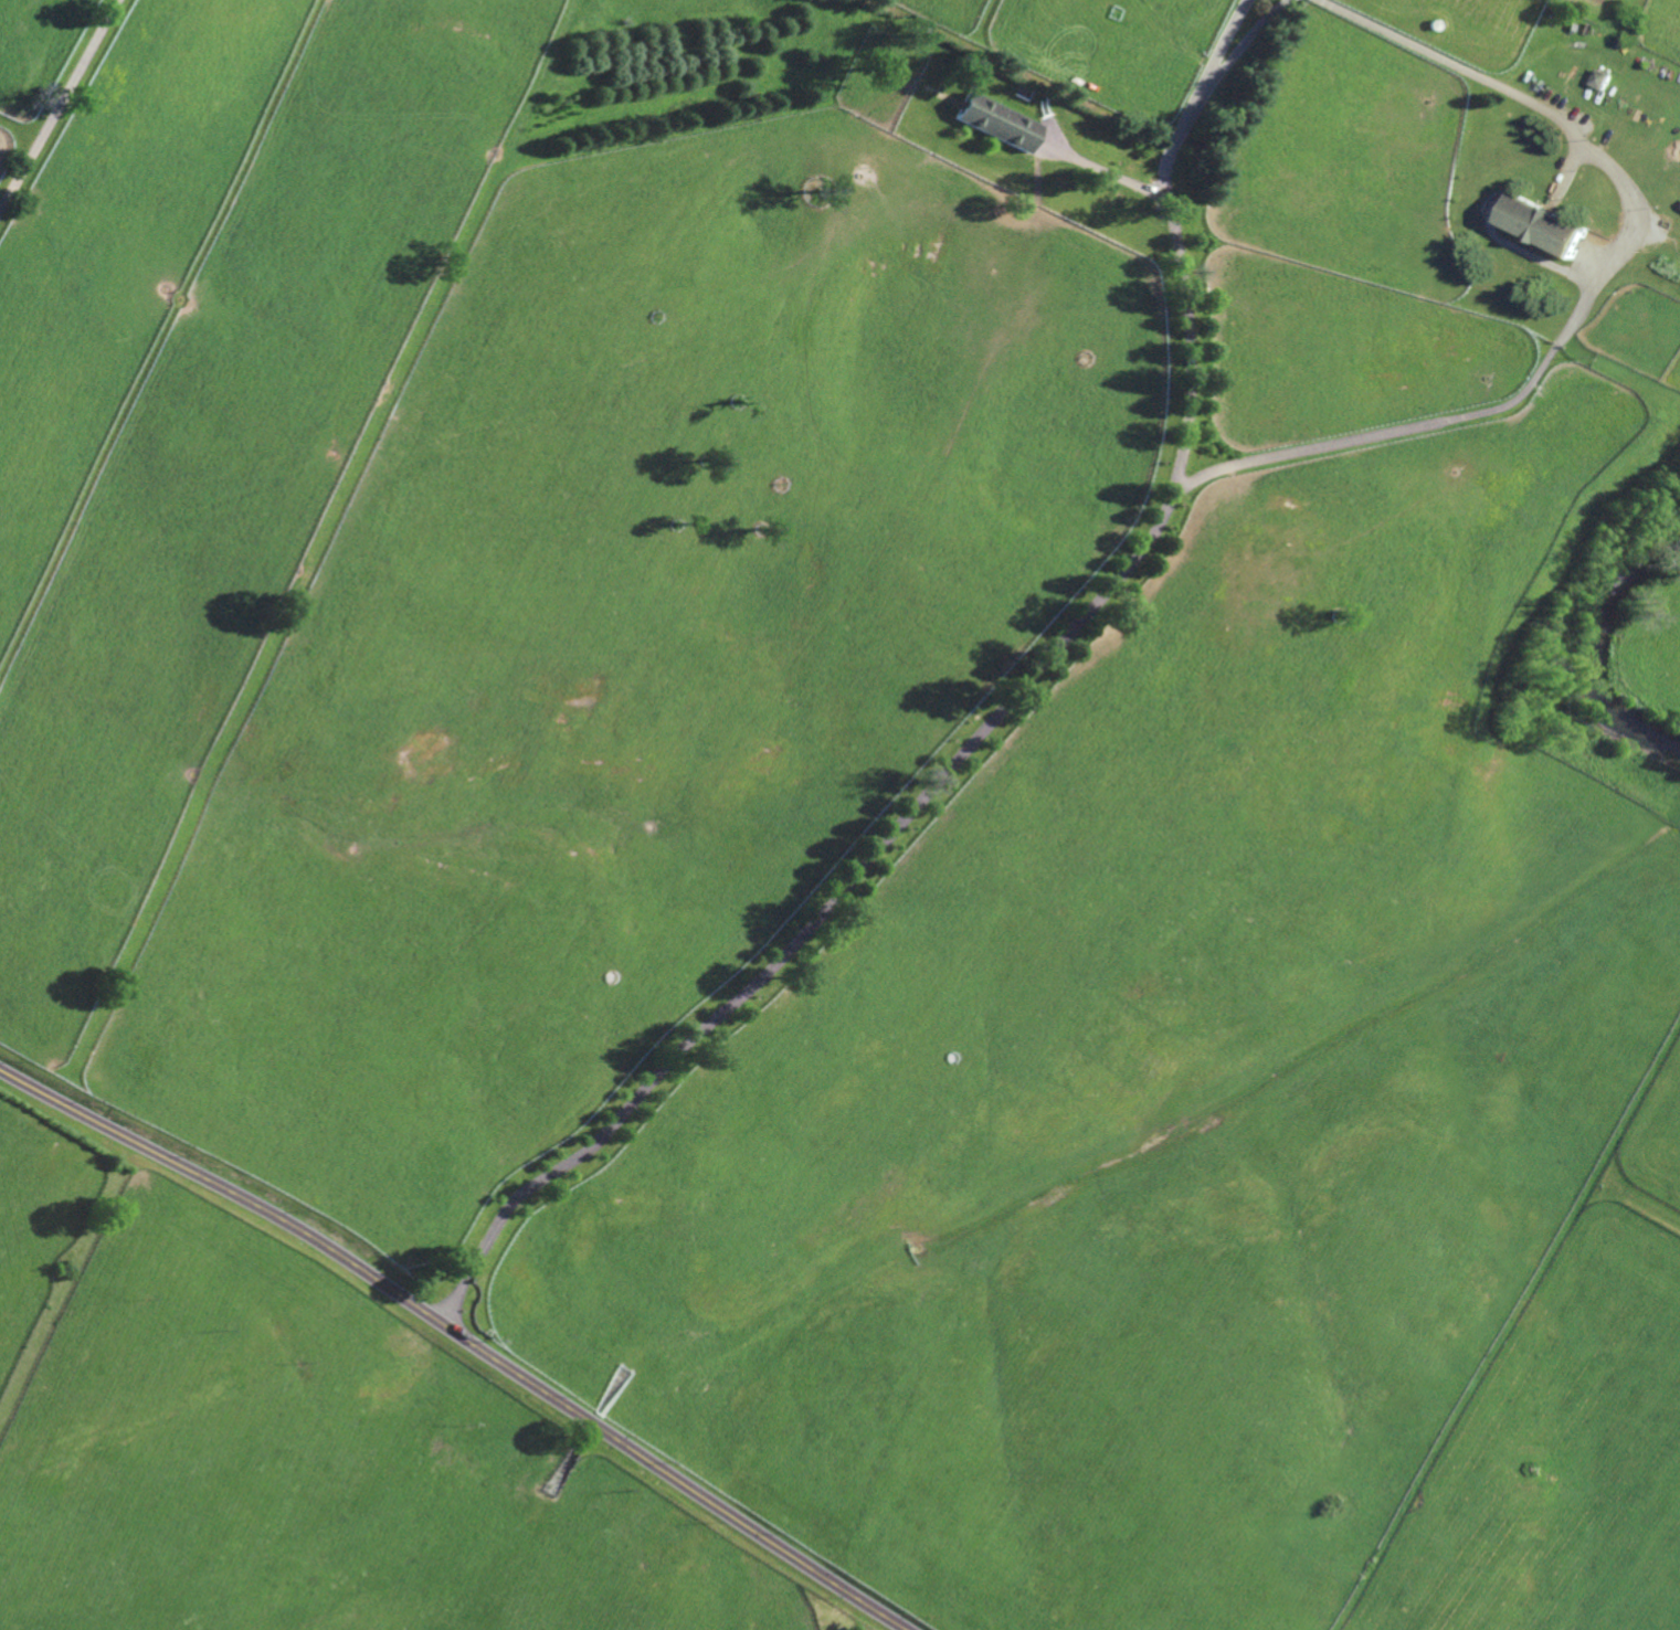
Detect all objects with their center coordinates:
road: (1243, 39)
building: (1602, 78)
building: (1019, 89)
road: (57, 104)
building: (994, 121)
road: (1105, 171)
building: (1541, 226)
building: (1666, 264)
road: (1591, 294)
road: (990, 728)
road: (461, 1335)

